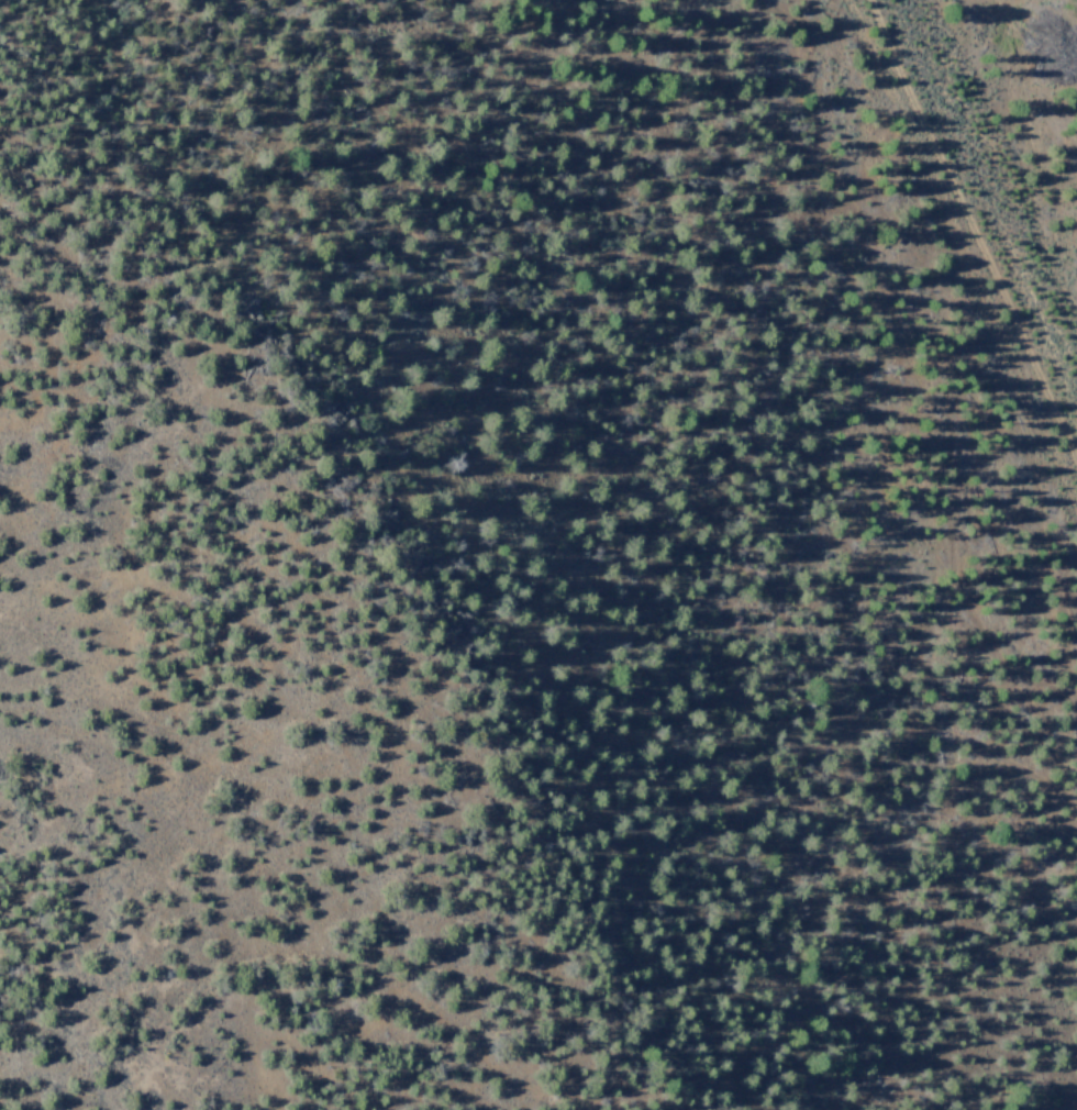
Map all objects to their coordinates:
road: (971, 233)

